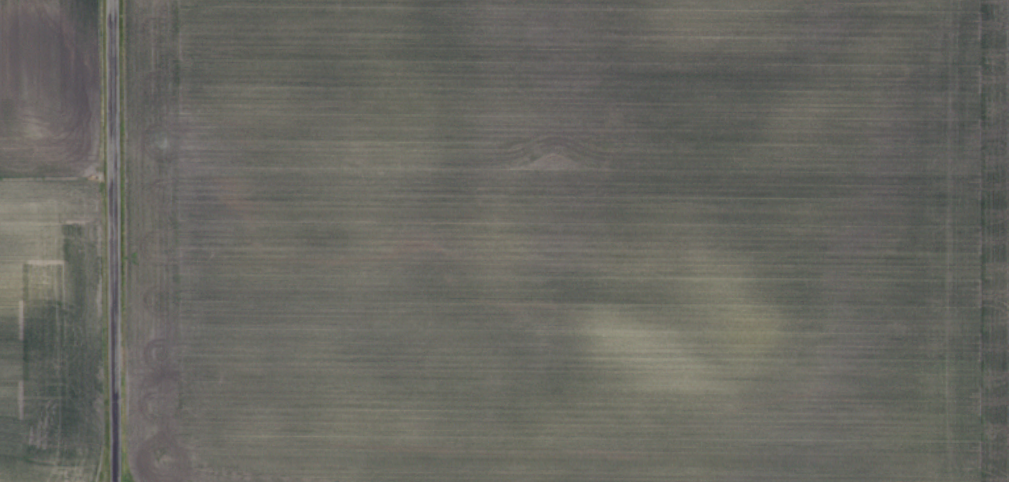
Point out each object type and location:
crop: (564, 240)
road: (110, 241)
crop: (55, 242)

